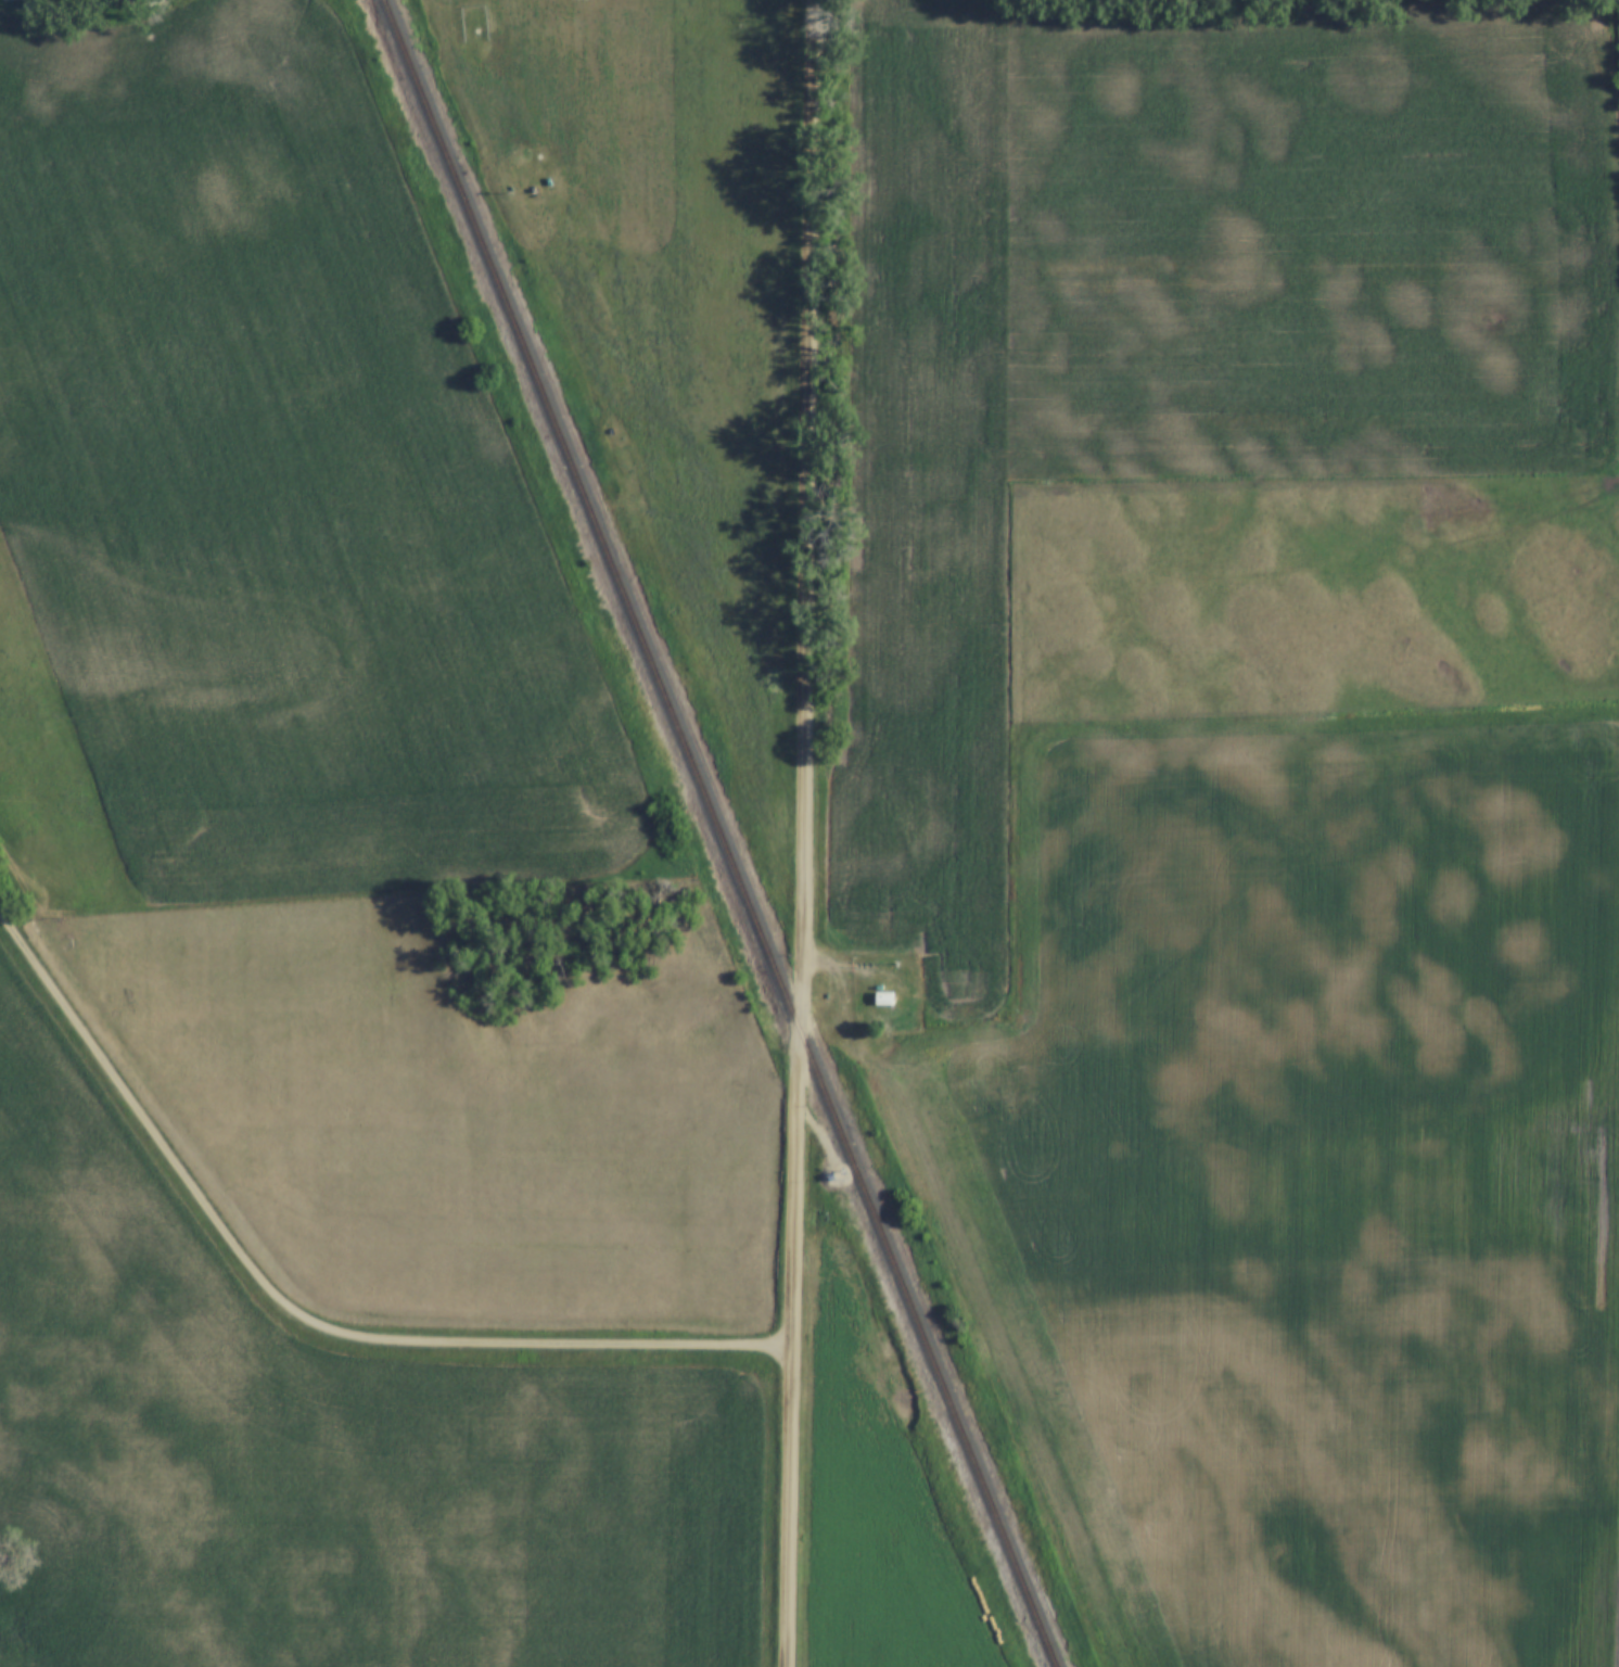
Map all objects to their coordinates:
railway: (719, 832)
road: (804, 833)
building: (883, 1000)
road: (301, 1311)

